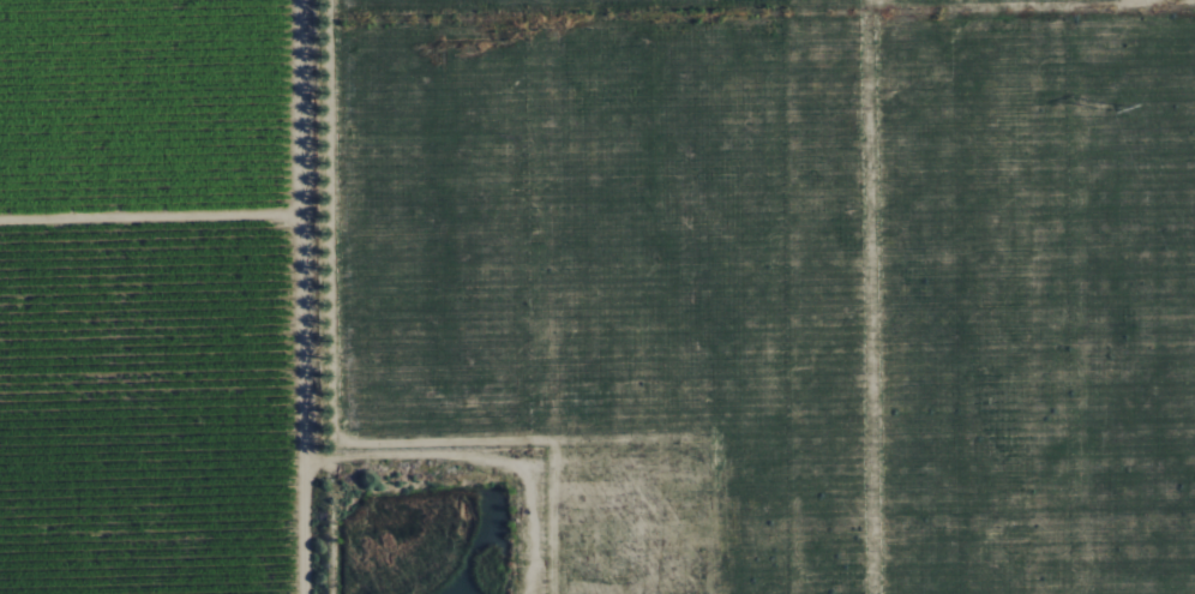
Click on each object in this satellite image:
power tower: (1121, 113)
road: (304, 296)

